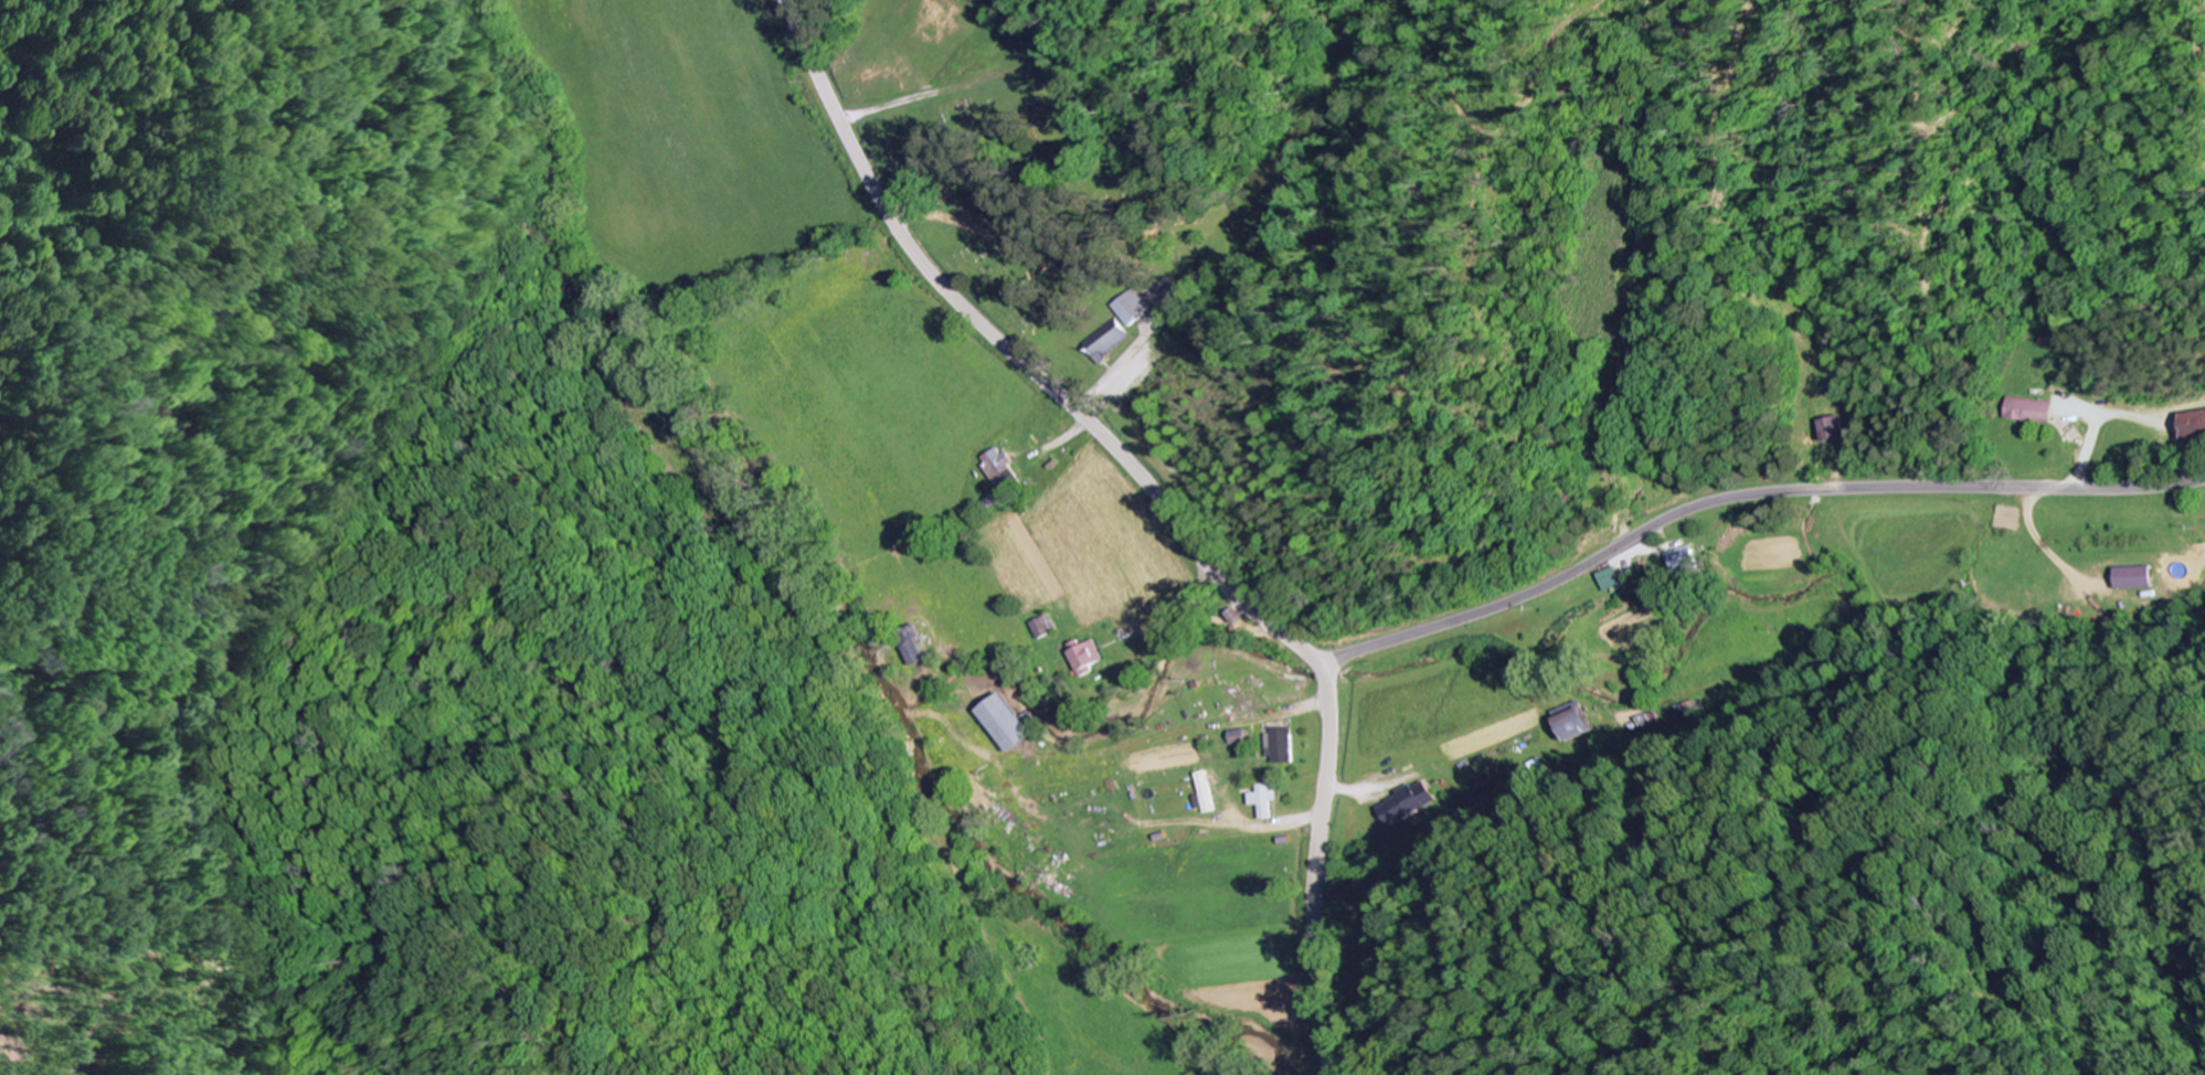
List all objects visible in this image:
building: (1136, 307)
building: (1113, 341)
building: (2037, 409)
building: (2199, 423)
building: (1837, 428)
building: (1005, 470)
road: (1746, 496)
road: (1170, 504)
building: (2139, 577)
building: (1620, 579)
building: (1046, 628)
building: (918, 647)
building: (1093, 658)
building: (1011, 723)
building: (1572, 724)
building: (1242, 736)
building: (1282, 746)
building: (1209, 794)
building: (1261, 798)
road: (1333, 1042)

